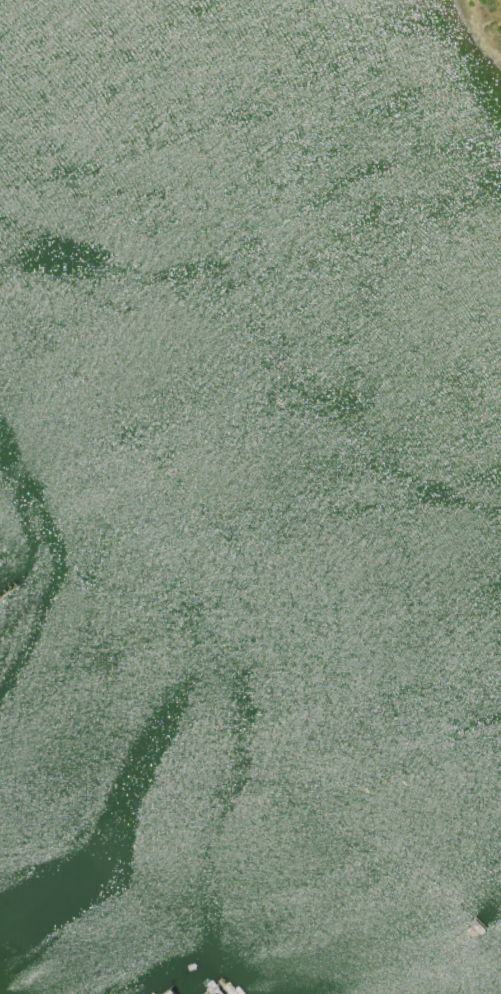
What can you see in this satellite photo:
building: (170, 990)
building: (215, 992)

